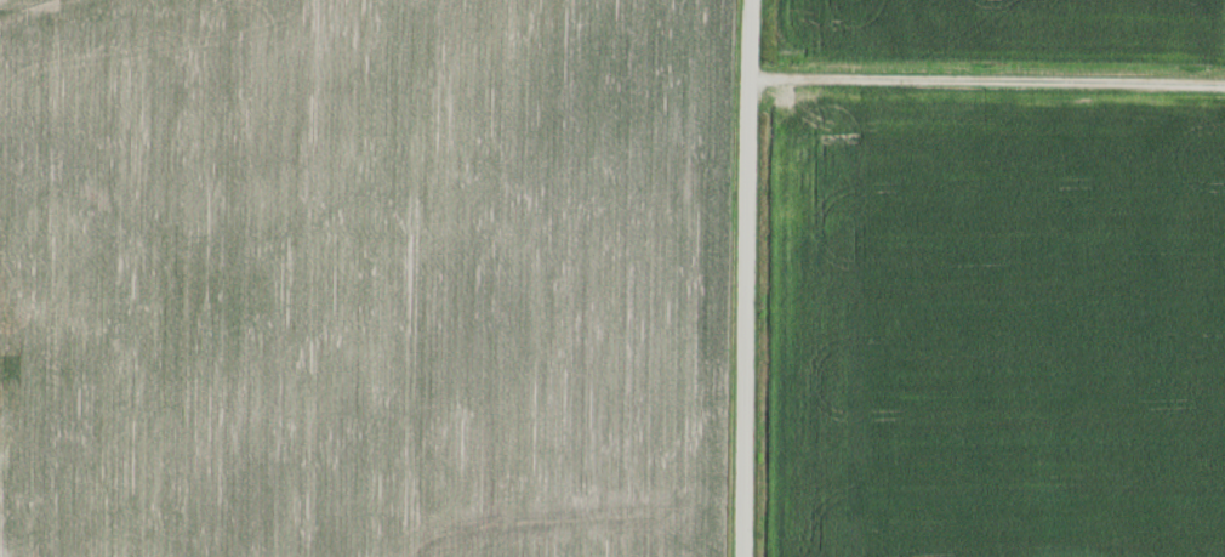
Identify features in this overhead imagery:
road: (987, 79)
road: (747, 278)

